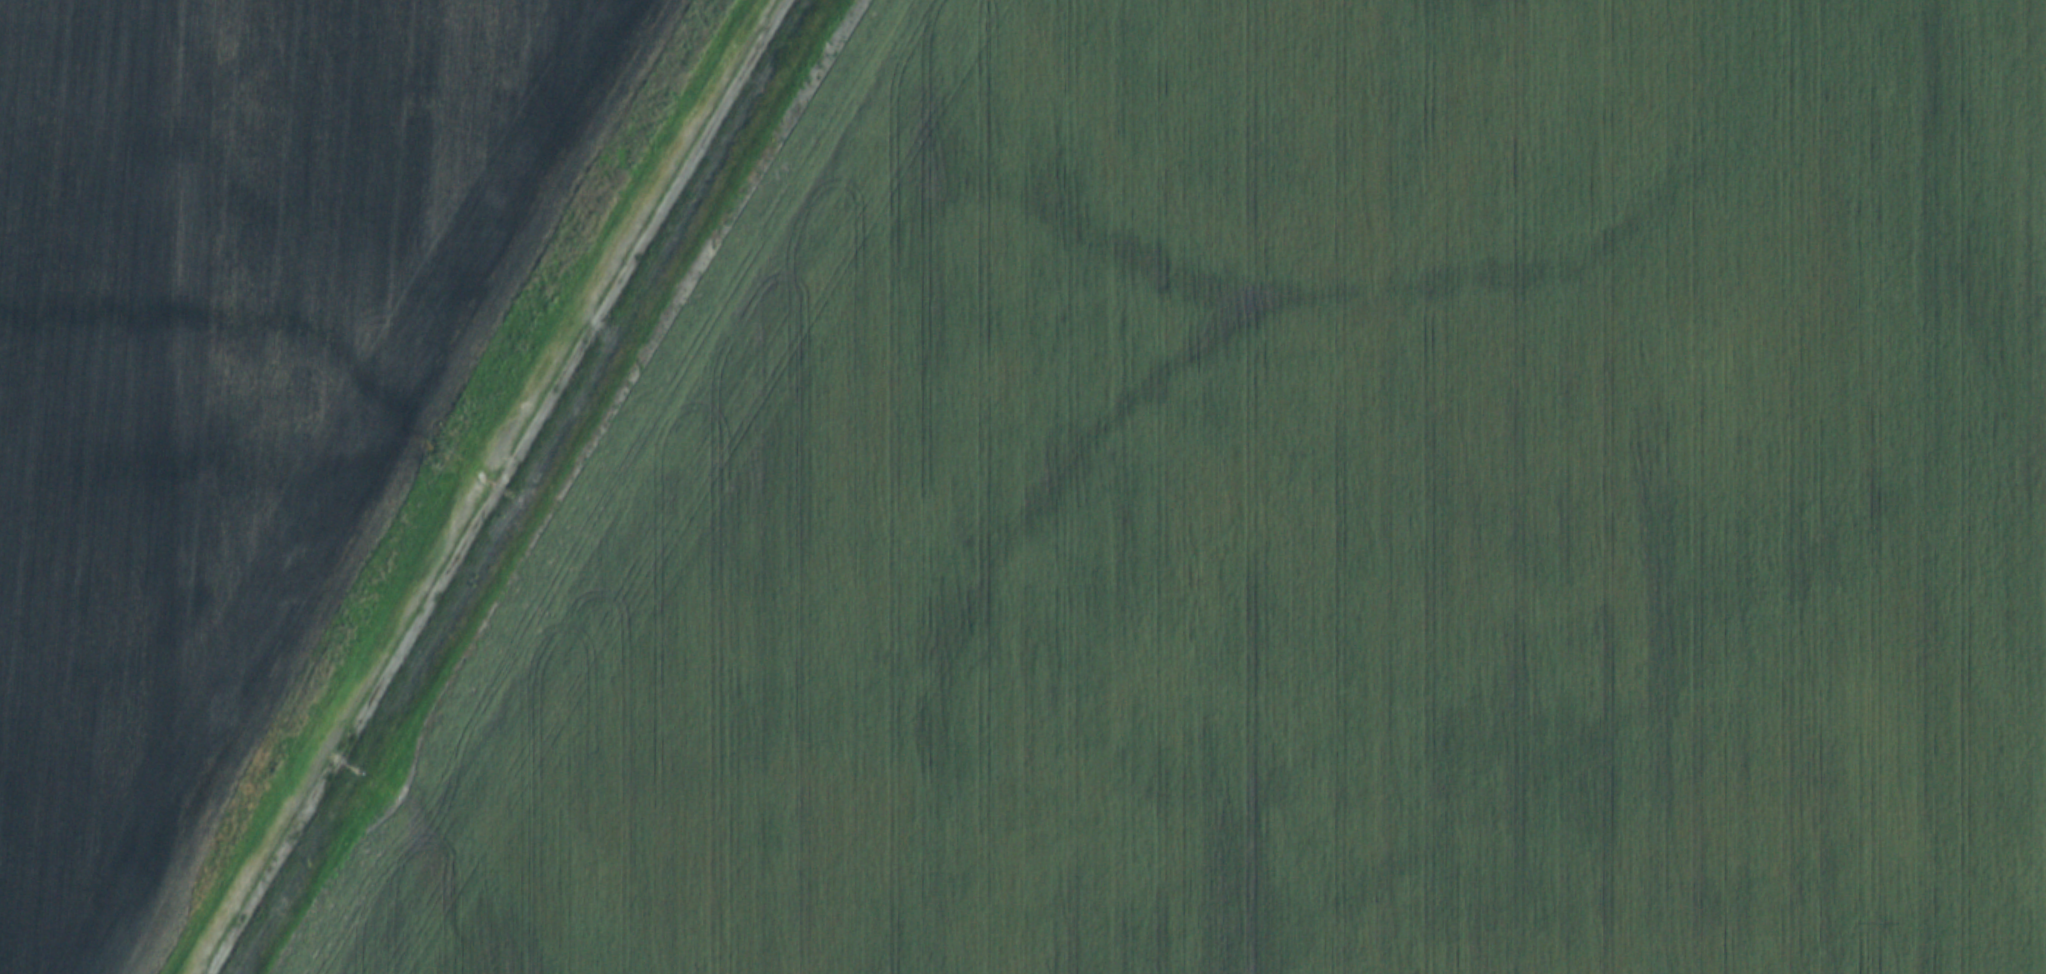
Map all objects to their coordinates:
road: (280, 763)

